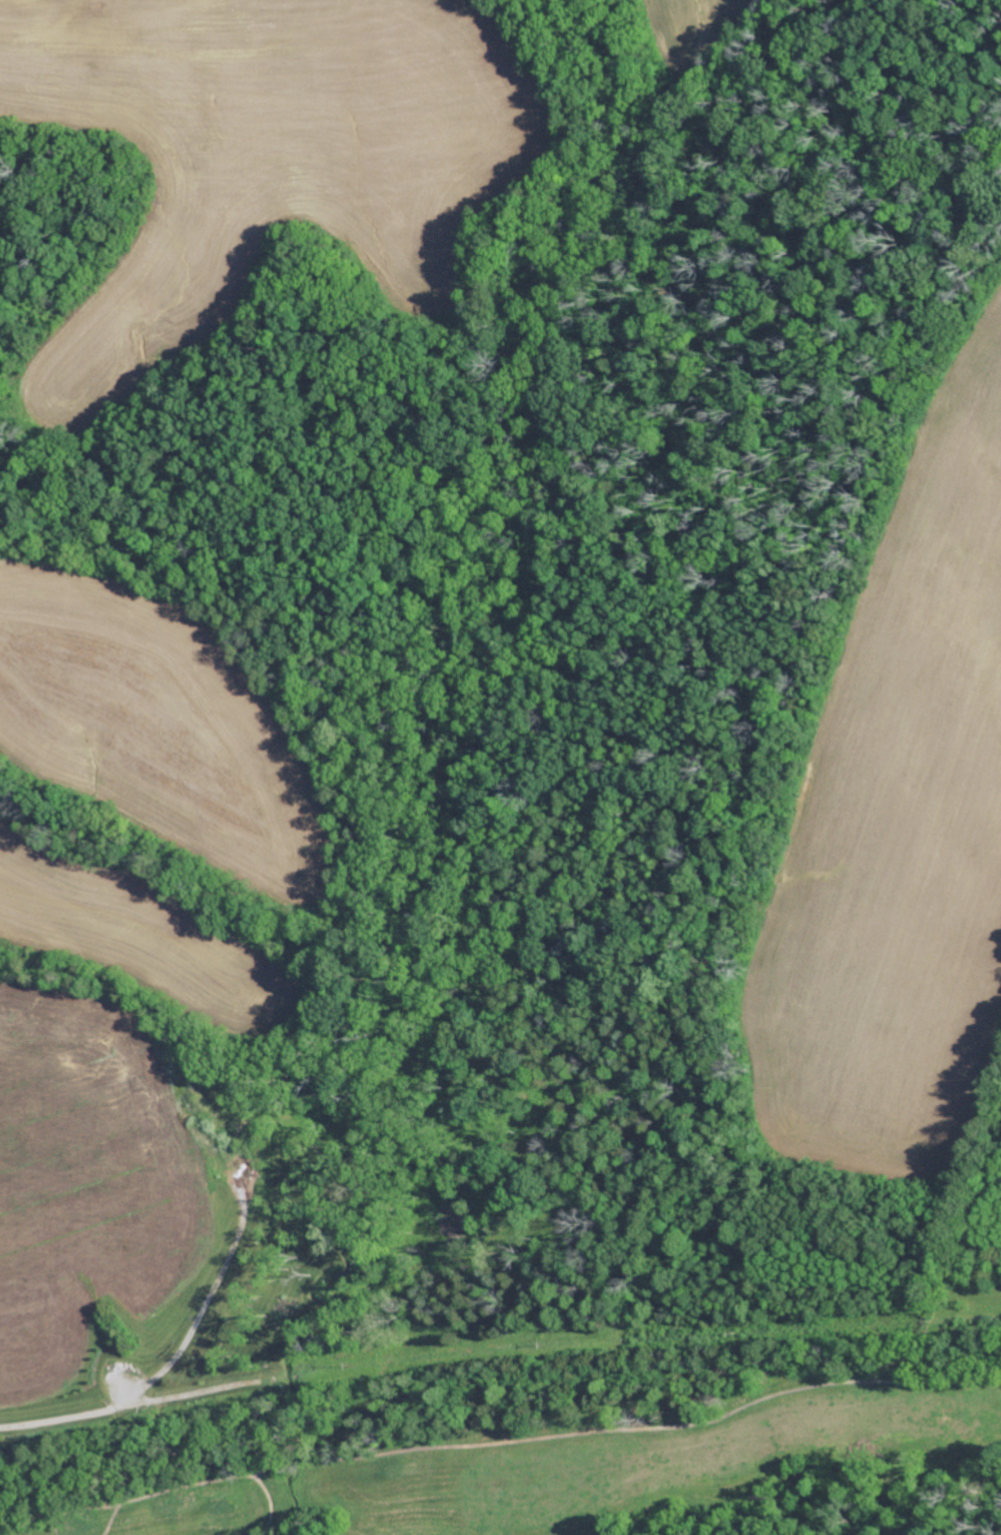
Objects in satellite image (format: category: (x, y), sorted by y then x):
road: (997, 988)

